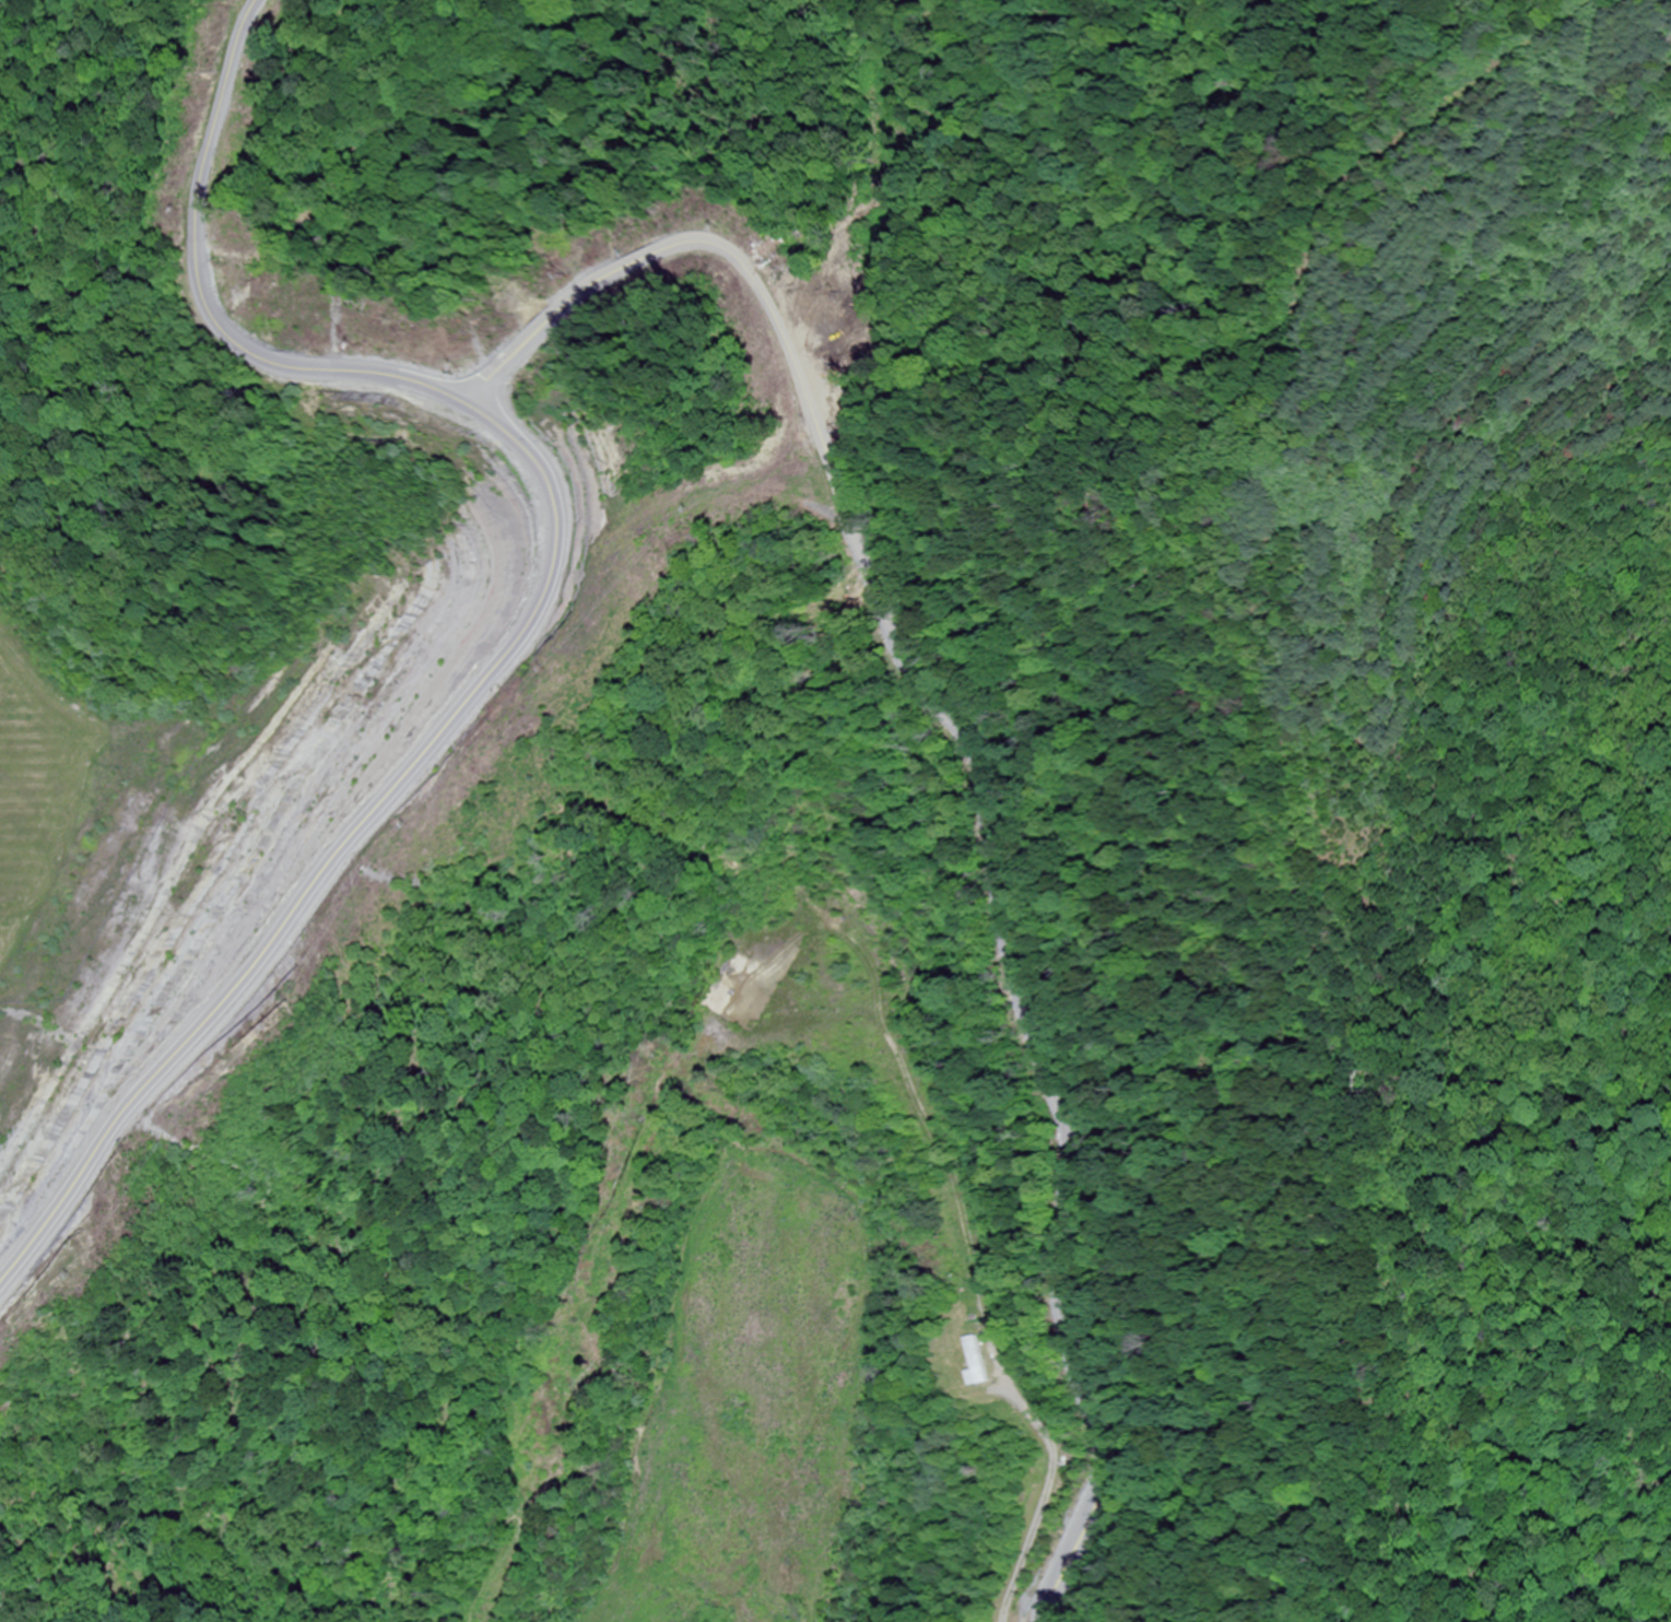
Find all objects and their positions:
road: (421, 384)
road: (329, 847)
road: (1022, 1006)
road: (1035, 1207)
building: (979, 1361)

